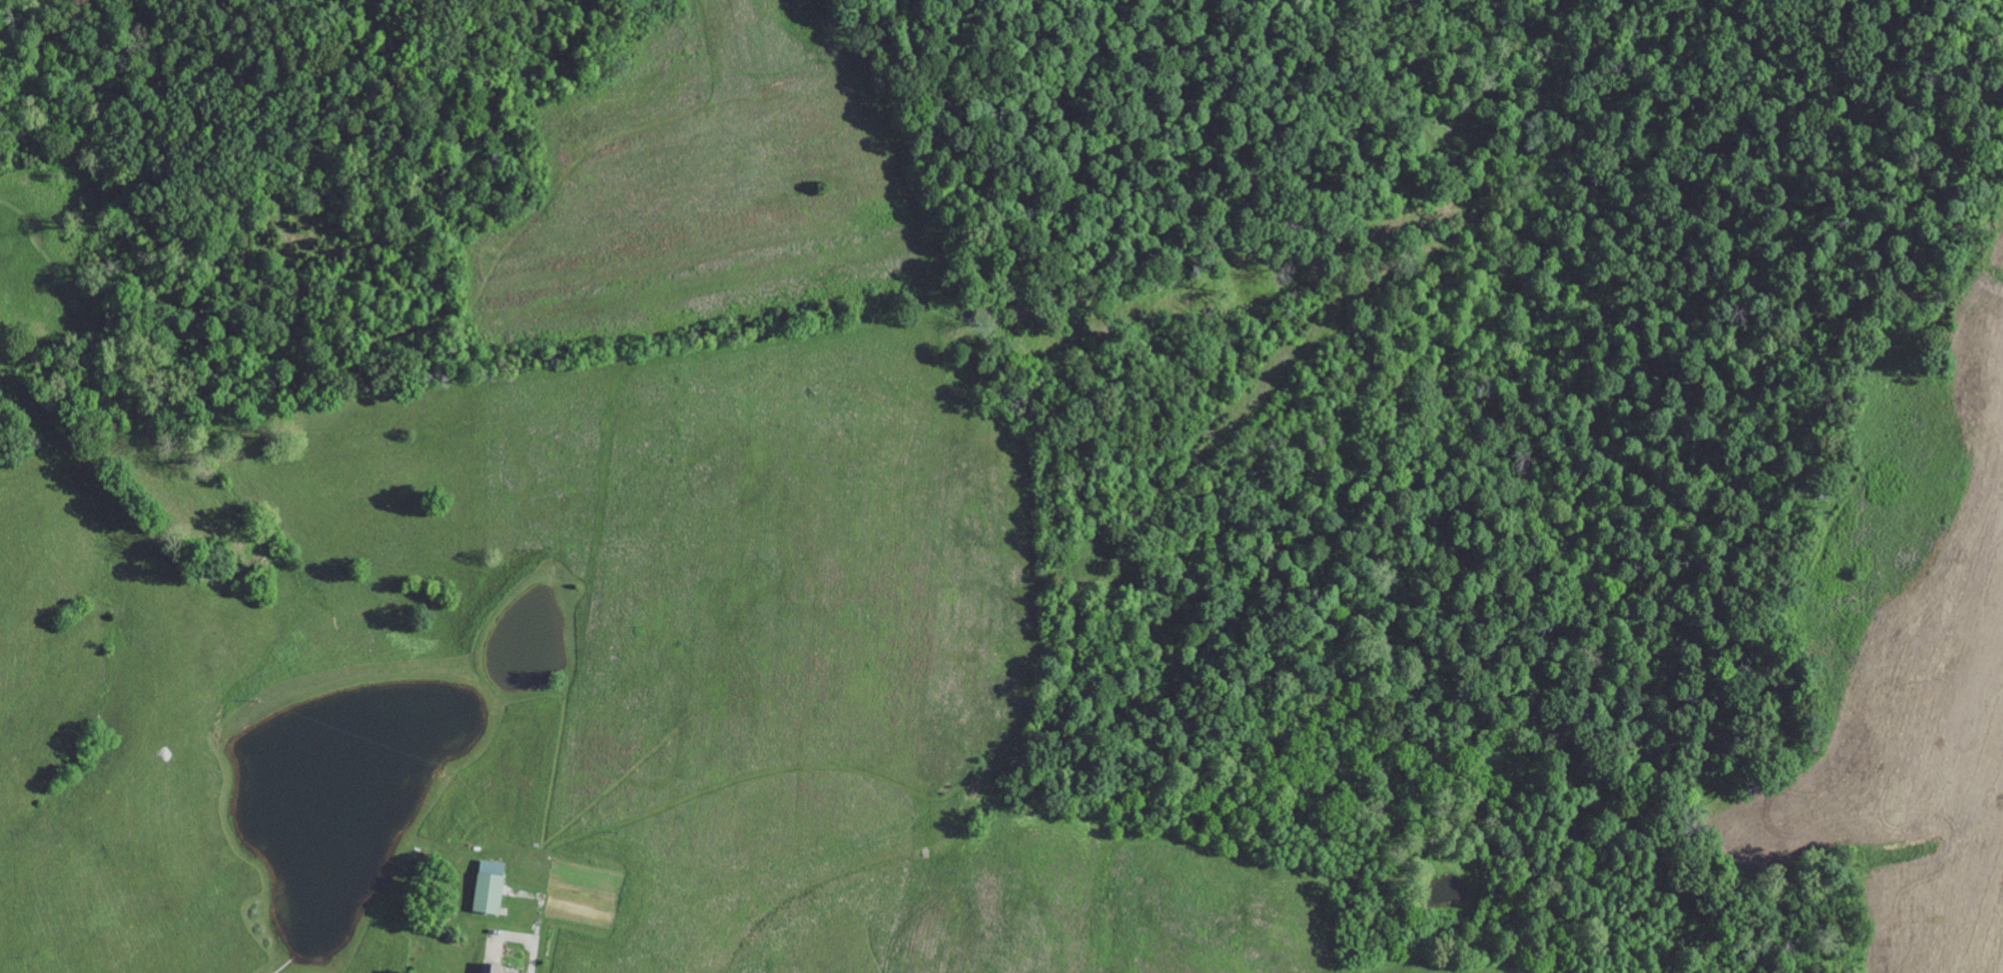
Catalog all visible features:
building: (491, 887)
building: (494, 968)

